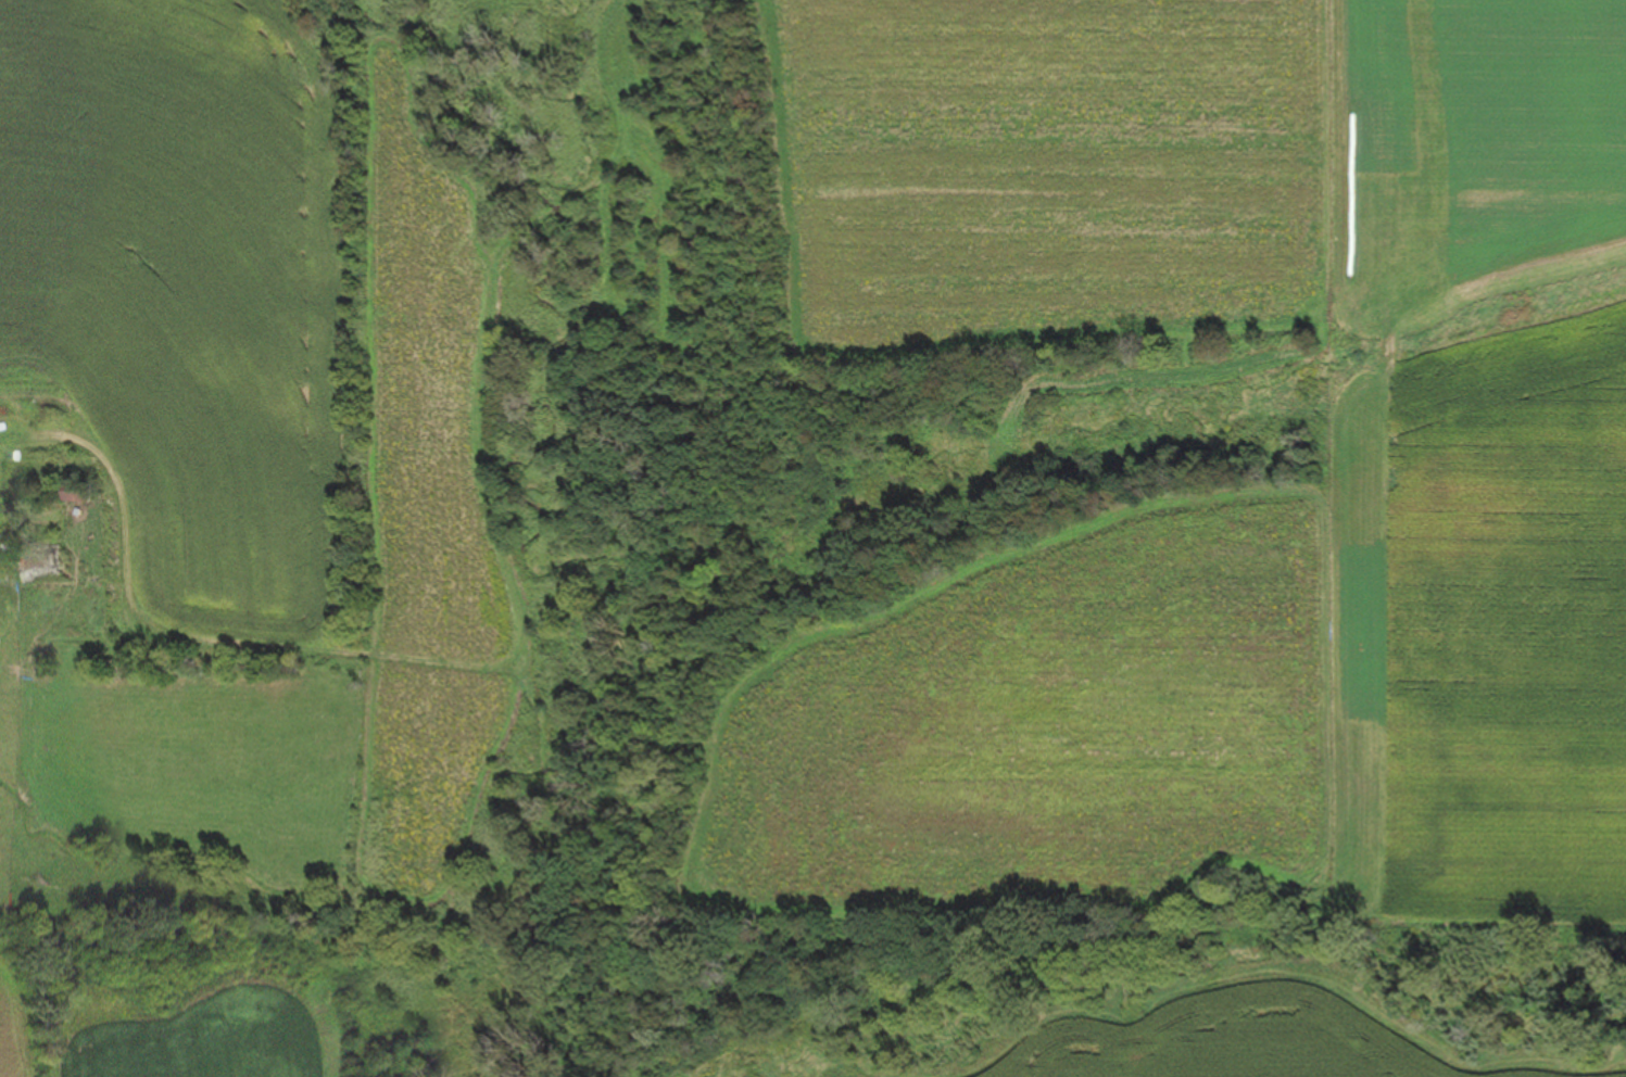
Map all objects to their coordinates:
building: (35, 560)

